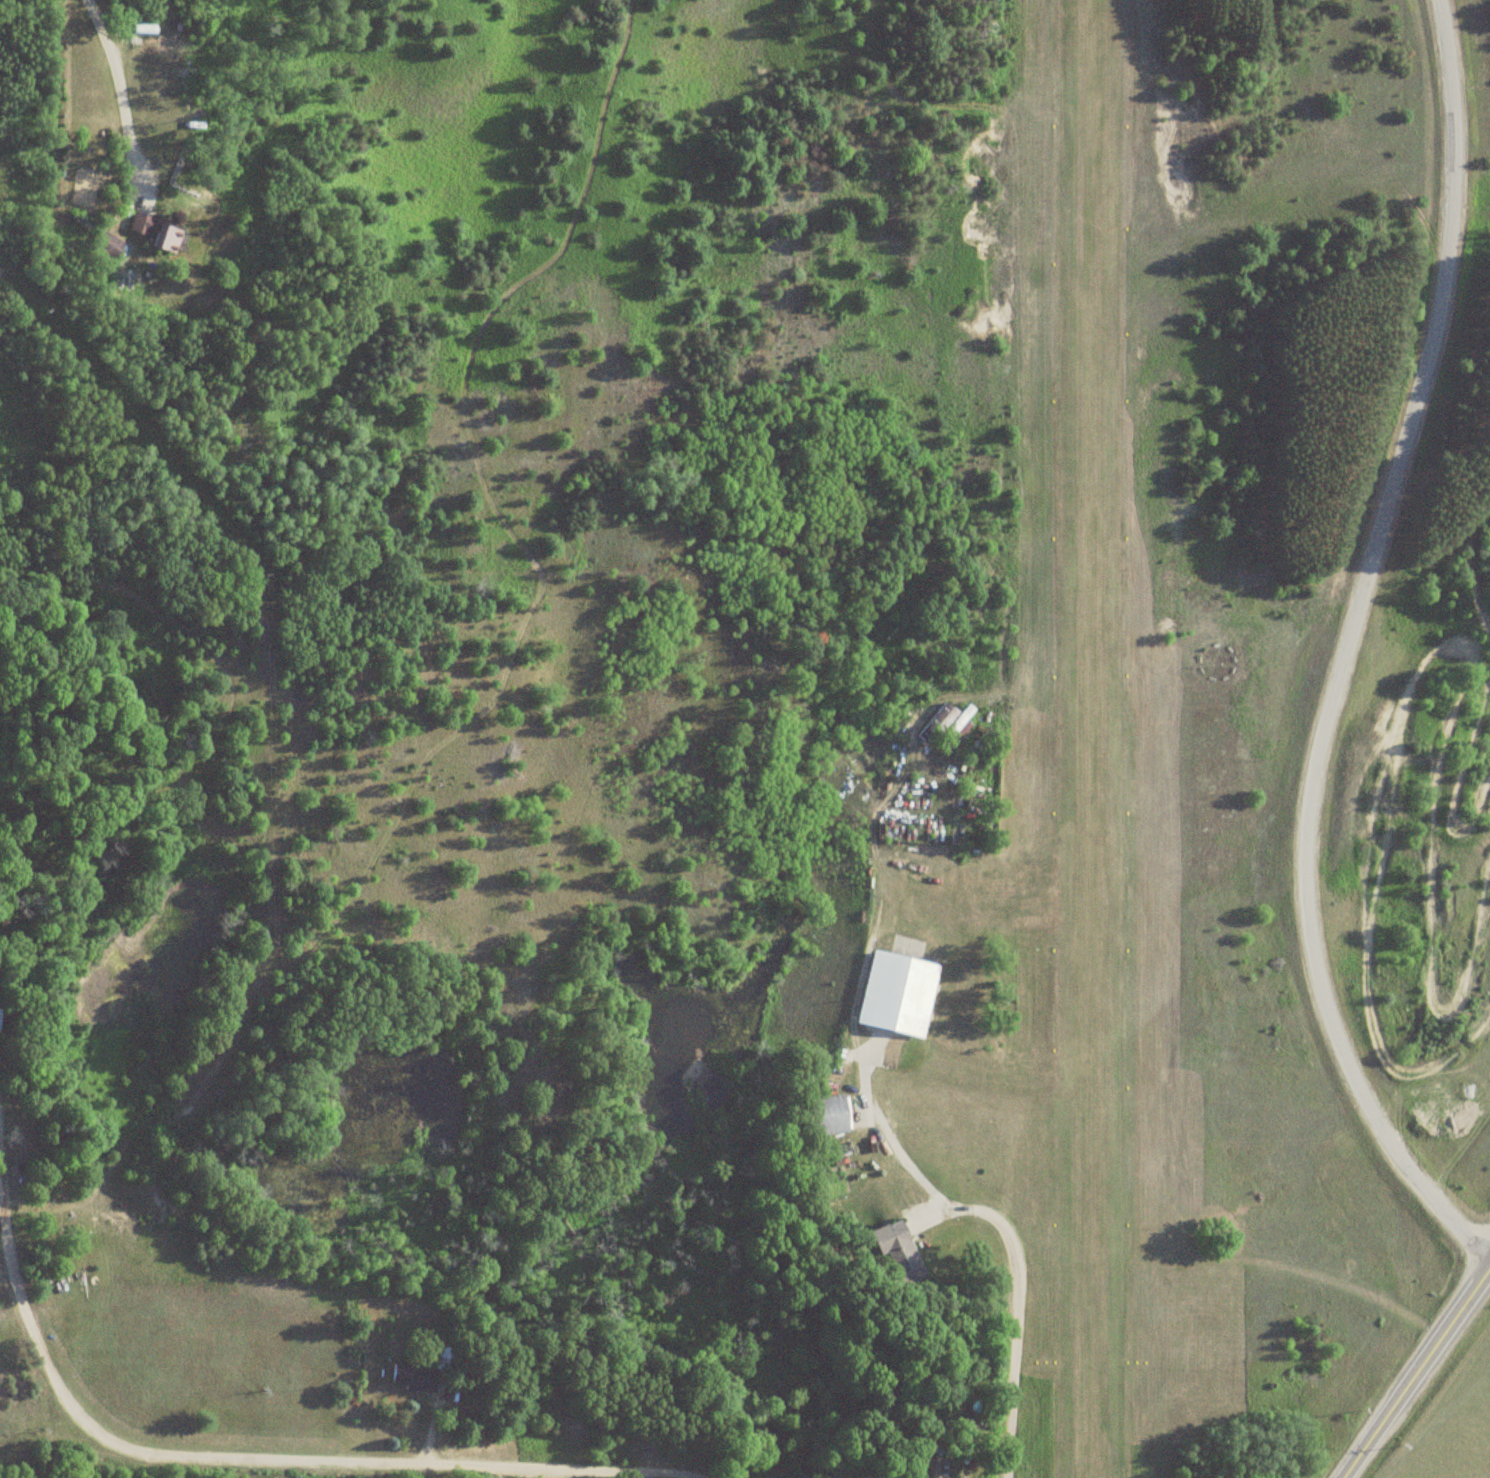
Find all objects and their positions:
road: (119, 90)
building: (156, 232)
road: (1338, 654)
building: (946, 725)
airport runway: (1087, 739)
building: (896, 993)
building: (827, 1115)
building: (897, 1251)
road: (1010, 1307)
road: (1416, 1372)
building: (419, 1373)
road: (231, 1465)

